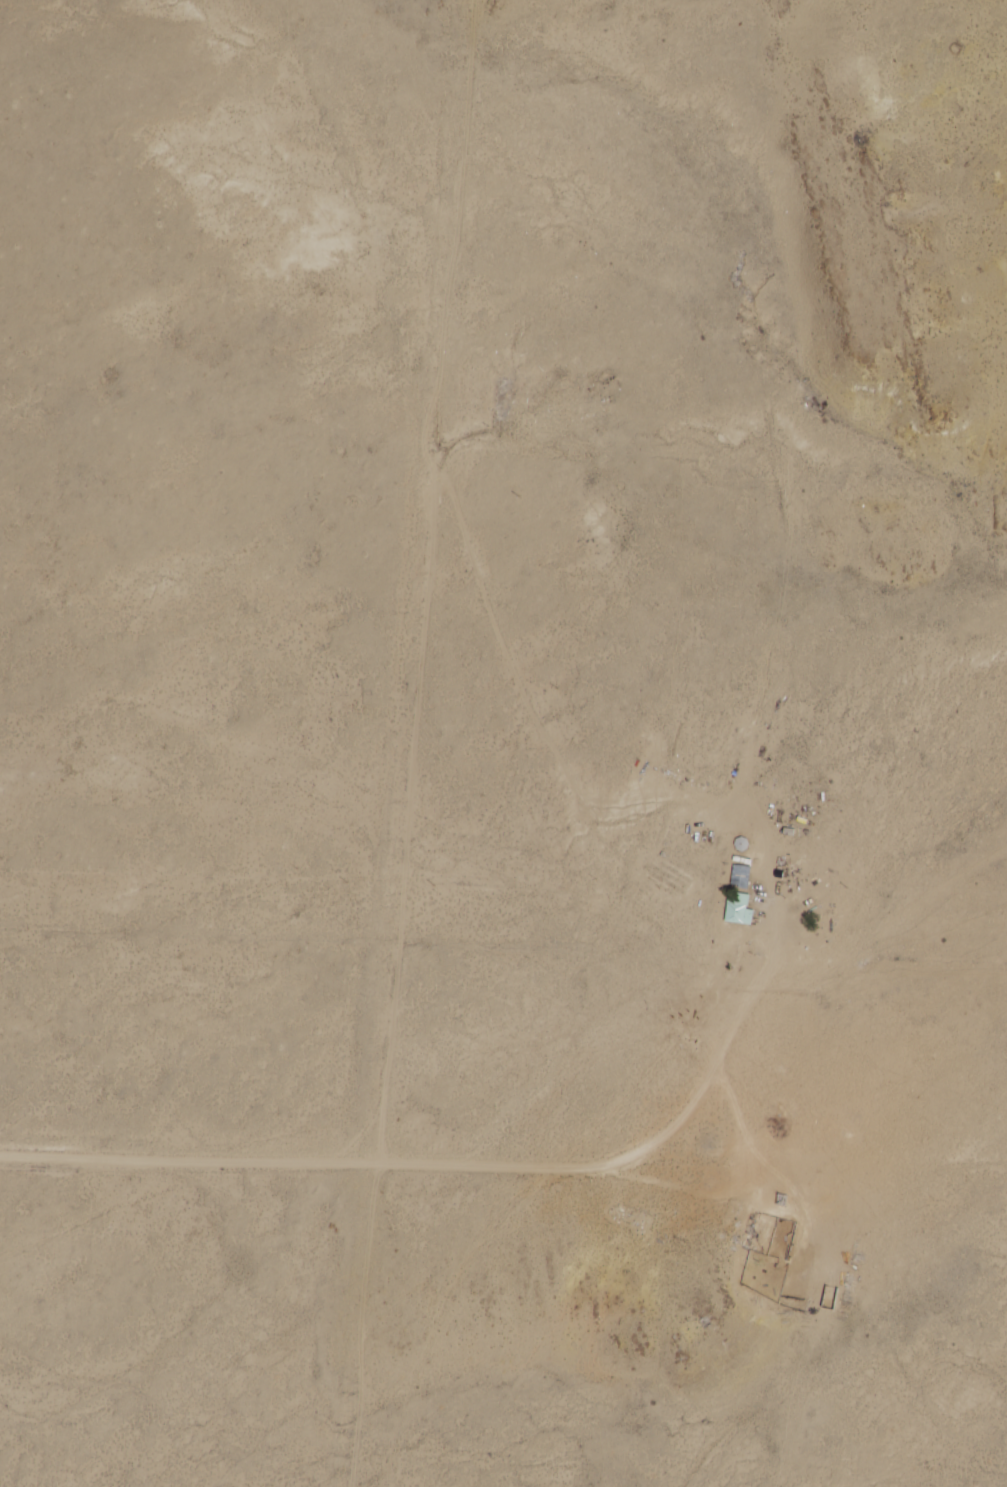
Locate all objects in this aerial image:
building: (740, 876)
building: (739, 908)
road: (502, 1192)

